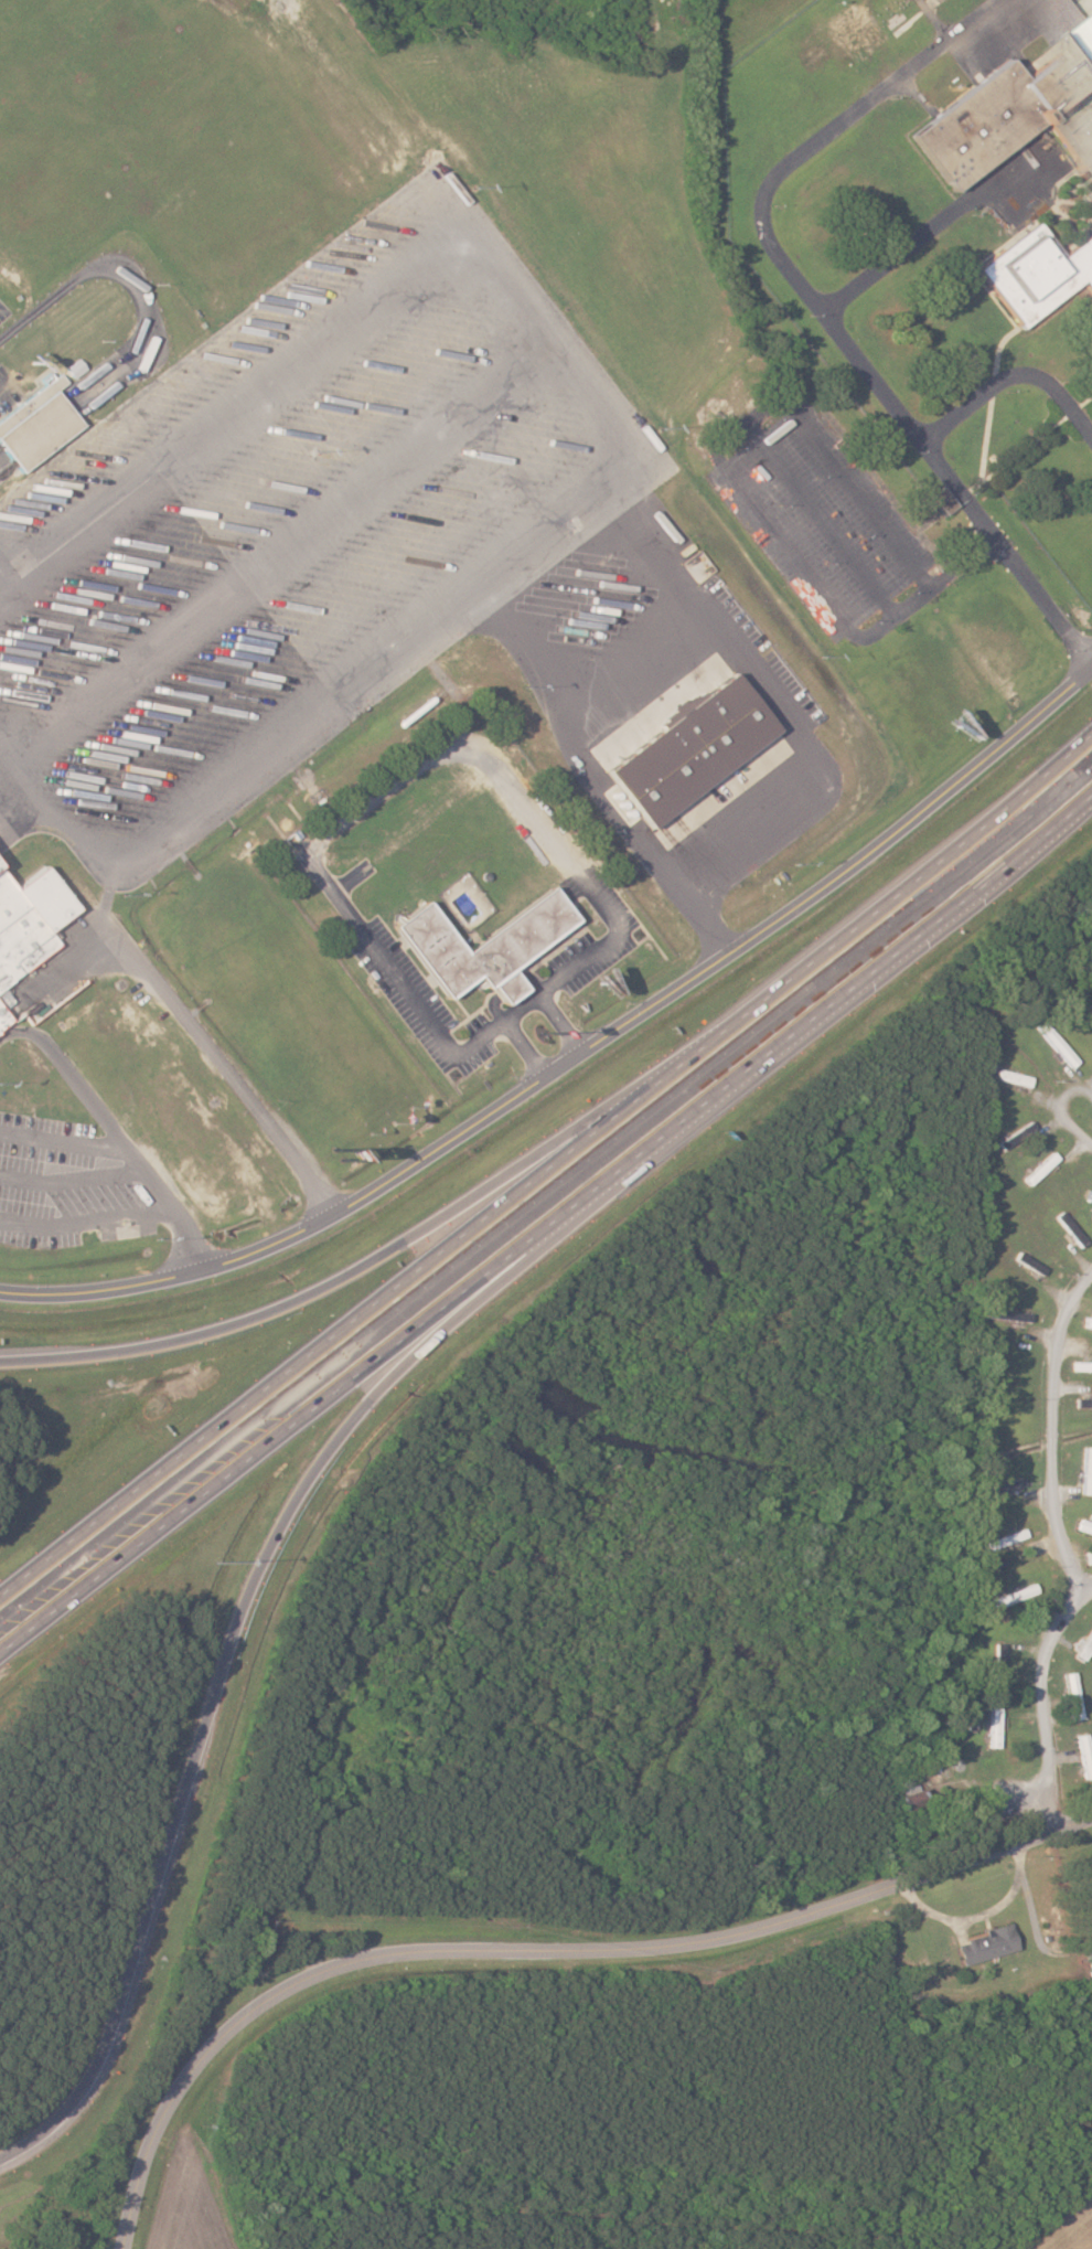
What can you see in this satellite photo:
building: (853, 31)
building: (1014, 113)
building: (1079, 260)
building: (1029, 267)
parking lot: (2, 307)
road: (147, 321)
road: (557, 329)
road: (7, 381)
parking lot: (8, 386)
road: (238, 411)
building: (36, 425)
building: (942, 500)
parking lot: (293, 523)
road: (291, 544)
road: (8, 572)
road: (940, 584)
road: (326, 680)
road: (12, 742)
road: (467, 750)
road: (942, 913)
building: (29, 924)
building: (510, 944)
road: (178, 1008)
building: (3, 1021)
road: (566, 1023)
road: (526, 1051)
road: (581, 1055)
building: (1011, 1077)
road: (1071, 1107)
road: (114, 1133)
building: (1017, 1134)
road: (61, 1141)
road: (548, 1174)
road: (84, 1217)
road: (407, 1239)
building: (1086, 1321)
road: (395, 1341)
building: (1081, 1365)
building: (1084, 1401)
road: (1060, 1429)
building: (1086, 1470)
road: (282, 1527)
building: (1083, 1527)
road: (1049, 1699)
building: (994, 1726)
building: (1083, 1752)
building: (908, 1797)
road: (537, 1943)
building: (985, 1944)
building: (1091, 1965)

